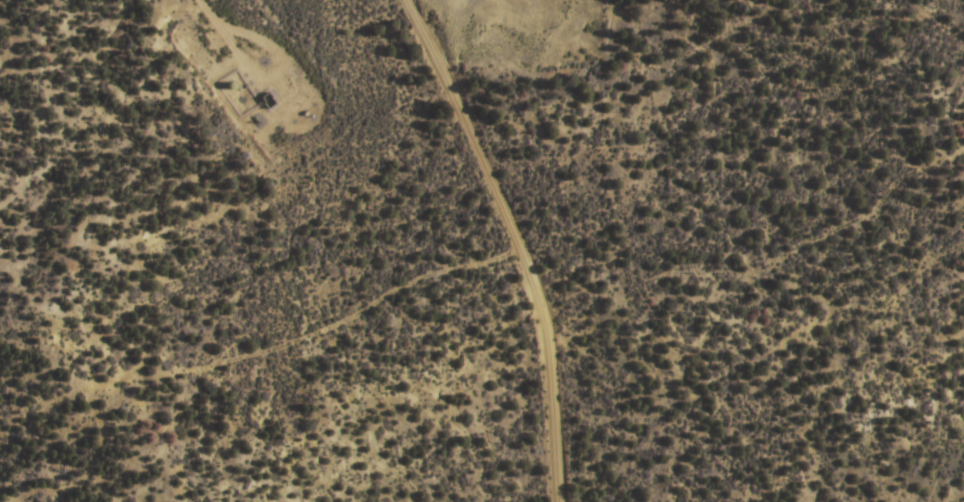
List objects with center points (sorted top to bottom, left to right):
road: (518, 246)

